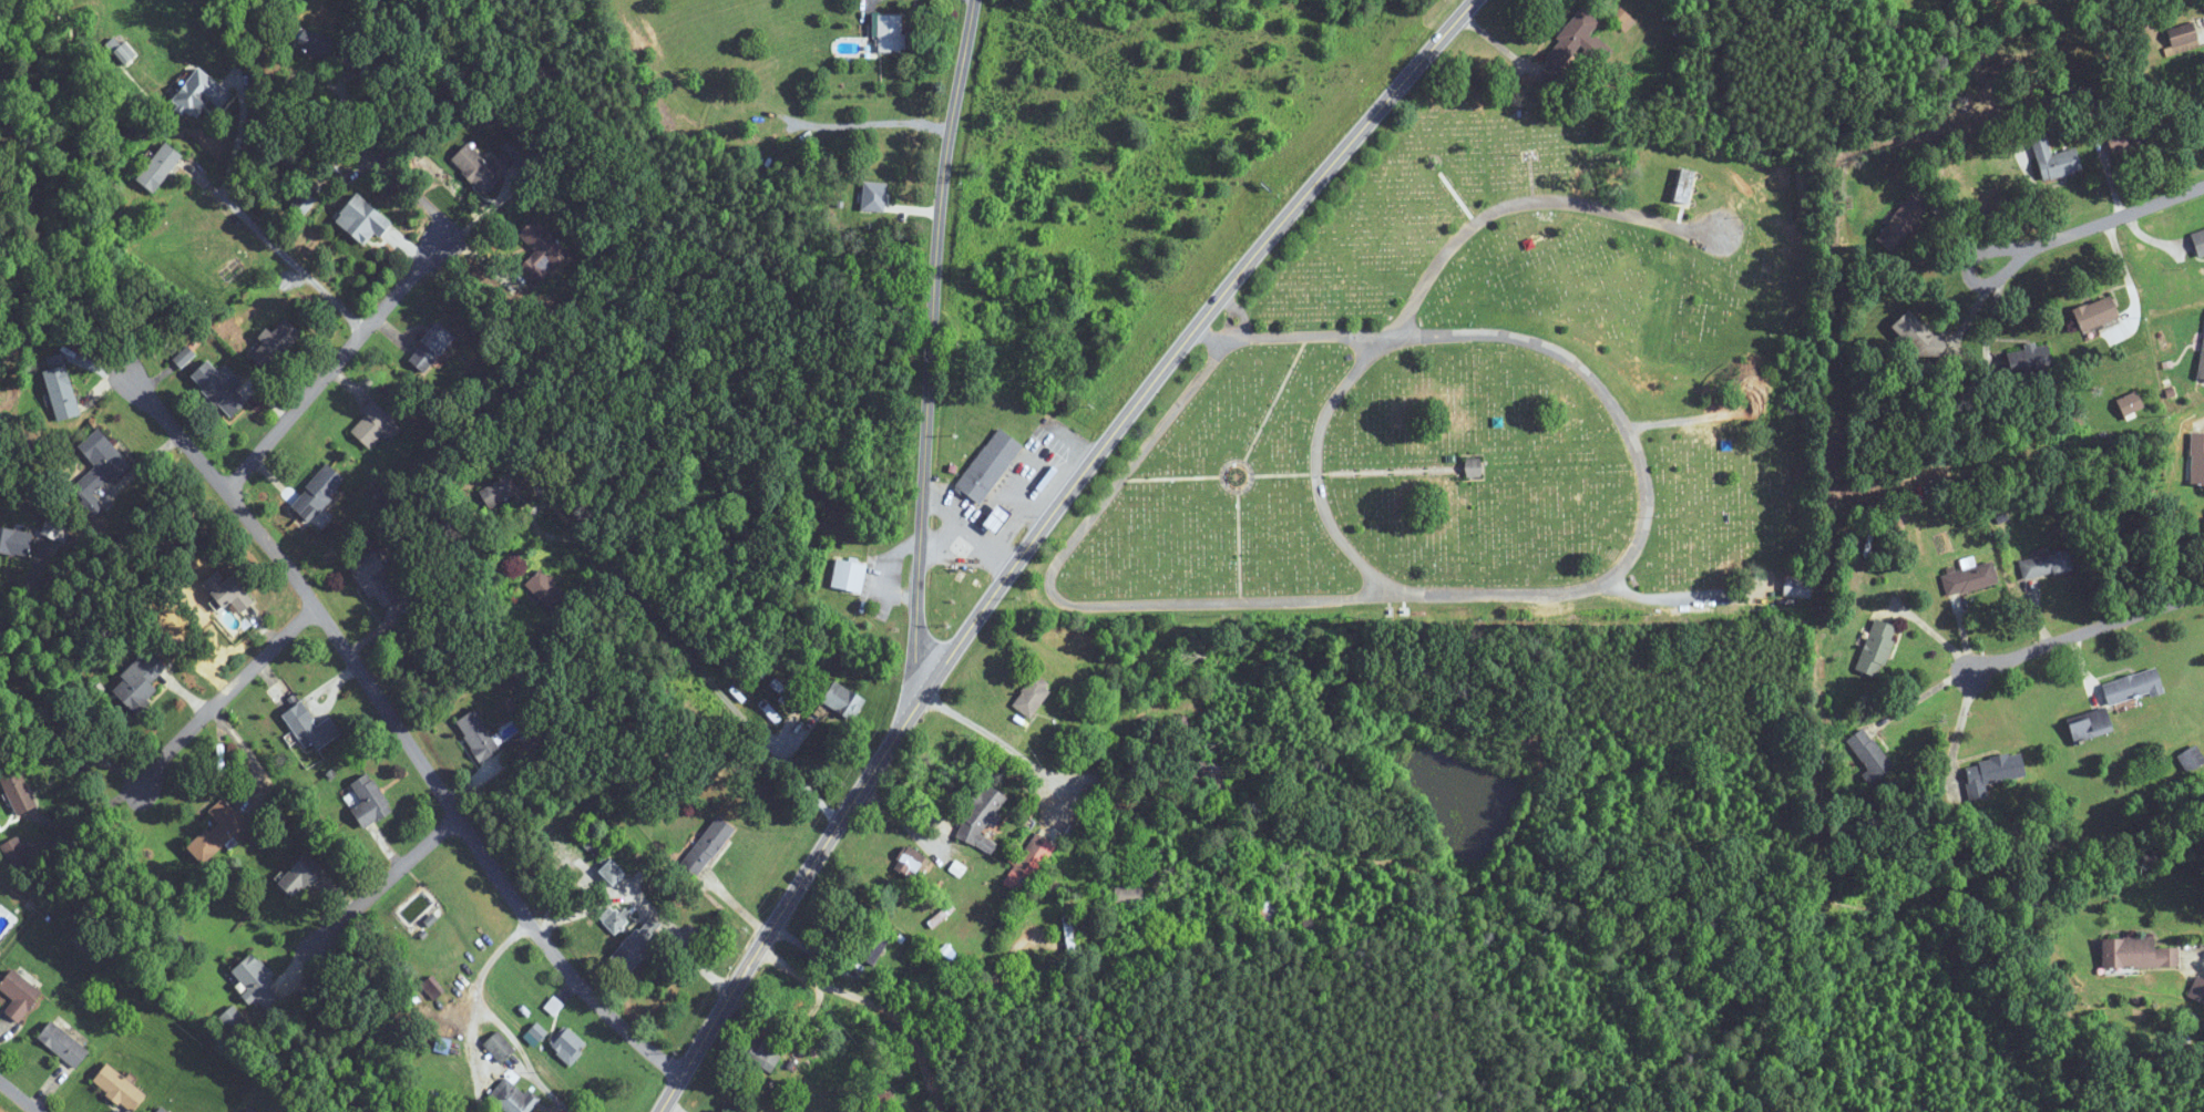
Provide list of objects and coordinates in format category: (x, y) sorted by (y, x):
building: (1622, 19)
building: (889, 33)
building: (2181, 34)
building: (1569, 48)
building: (315, 49)
building: (351, 58)
road: (295, 76)
building: (202, 93)
building: (2132, 134)
building: (767, 144)
building: (2053, 159)
building: (481, 166)
building: (160, 167)
building: (1683, 186)
road: (1526, 204)
road: (2119, 217)
building: (363, 219)
building: (1900, 225)
building: (2198, 241)
building: (541, 251)
road: (278, 254)
road: (1970, 275)
building: (2094, 313)
road: (378, 315)
building: (1915, 336)
road: (1514, 338)
building: (276, 342)
road: (933, 344)
building: (432, 347)
building: (2028, 360)
building: (2201, 363)
building: (219, 387)
park: (1488, 391)
building: (61, 392)
building: (2129, 403)
building: (373, 423)
building: (2196, 460)
building: (990, 464)
building: (1472, 467)
building: (99, 469)
road: (1319, 475)
building: (318, 492)
building: (499, 492)
road: (1029, 508)
building: (1000, 518)
building: (55, 527)
road: (968, 529)
road: (1037, 534)
road: (939, 535)
building: (16, 542)
building: (2044, 565)
building: (849, 575)
building: (1969, 578)
building: (373, 579)
road: (25, 586)
building: (1796, 588)
building: (545, 590)
building: (226, 591)
road: (1682, 596)
road: (1173, 603)
road: (2088, 631)
building: (1875, 648)
road: (689, 653)
building: (141, 681)
building: (2131, 687)
building: (782, 692)
road: (224, 693)
building: (1033, 697)
building: (842, 700)
road: (390, 715)
building: (2089, 725)
road: (1959, 727)
building: (310, 728)
road: (61, 729)
building: (479, 735)
road: (995, 742)
building: (1868, 753)
building: (2191, 759)
building: (1991, 773)
building: (1218, 778)
building: (19, 792)
building: (367, 802)
building: (982, 817)
building: (219, 830)
building: (707, 846)
building: (14, 853)
building: (908, 863)
building: (1029, 864)
building: (613, 872)
building: (301, 875)
road: (378, 890)
building: (1127, 896)
building: (1267, 903)
road: (647, 905)
building: (939, 909)
building: (614, 917)
building: (636, 946)
building: (875, 947)
building: (2136, 955)
road: (2198, 961)
building: (257, 980)
building: (432, 987)
building: (2197, 990)
road: (965, 991)
building: (20, 995)
building: (554, 1006)
road: (495, 1015)
building: (535, 1030)
building: (64, 1046)
building: (568, 1046)
building: (500, 1047)
building: (761, 1053)
road: (470, 1057)
road: (916, 1057)
building: (120, 1088)
road: (18, 1096)
building: (514, 1098)
building: (885, 1102)
road: (673, 1106)
building: (163, 1110)
building: (755, 1111)

